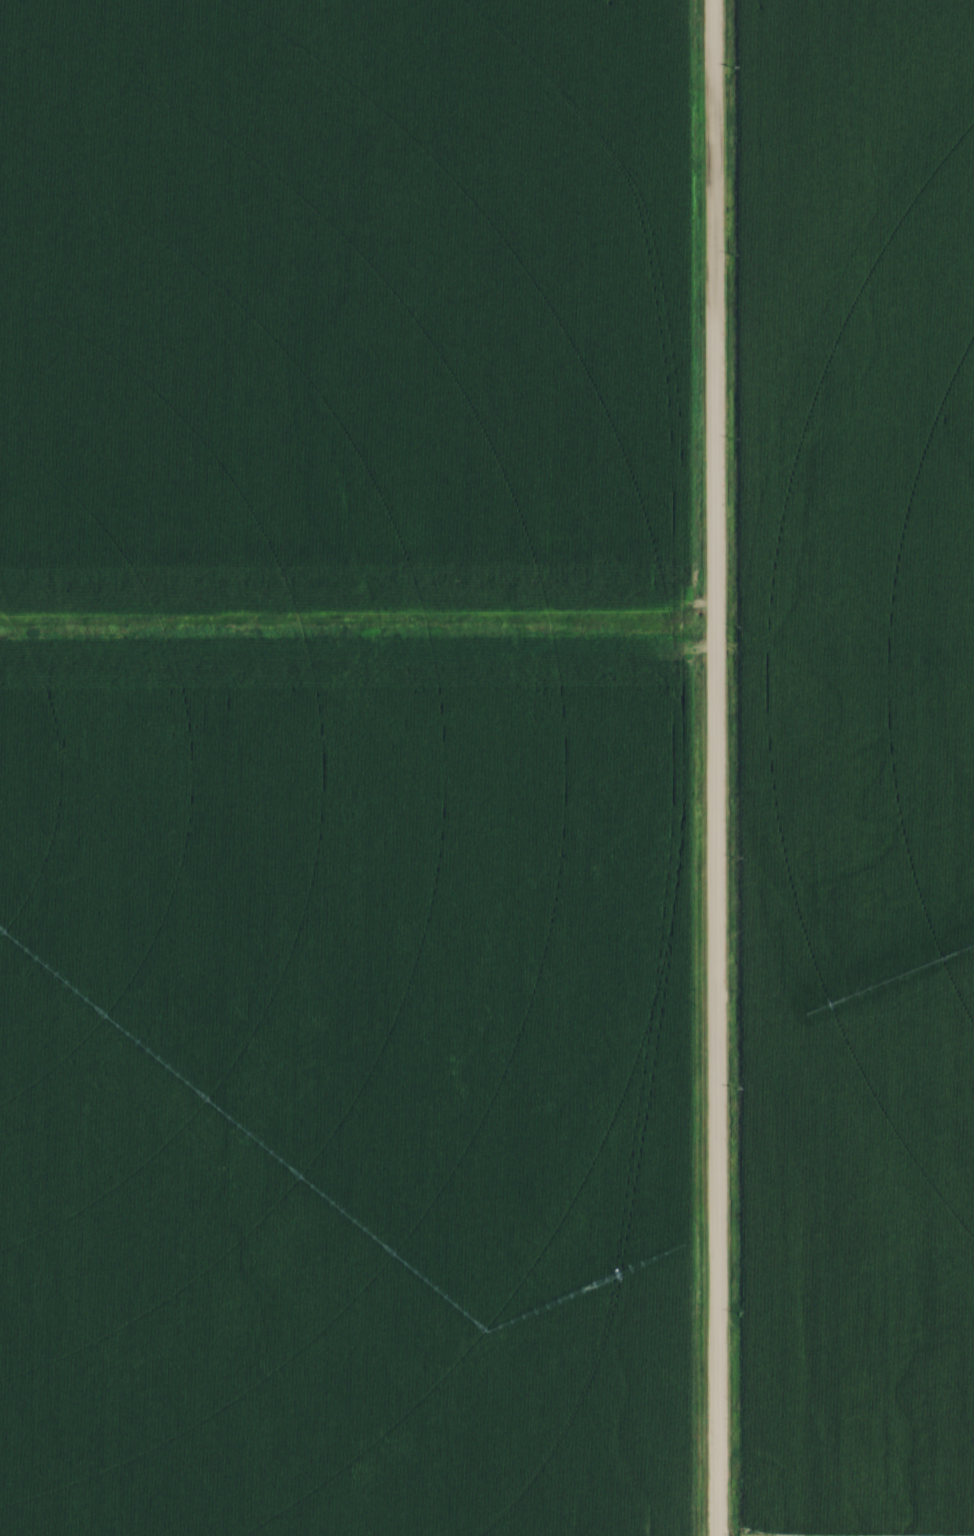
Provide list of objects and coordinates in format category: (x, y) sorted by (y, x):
road: (713, 768)

